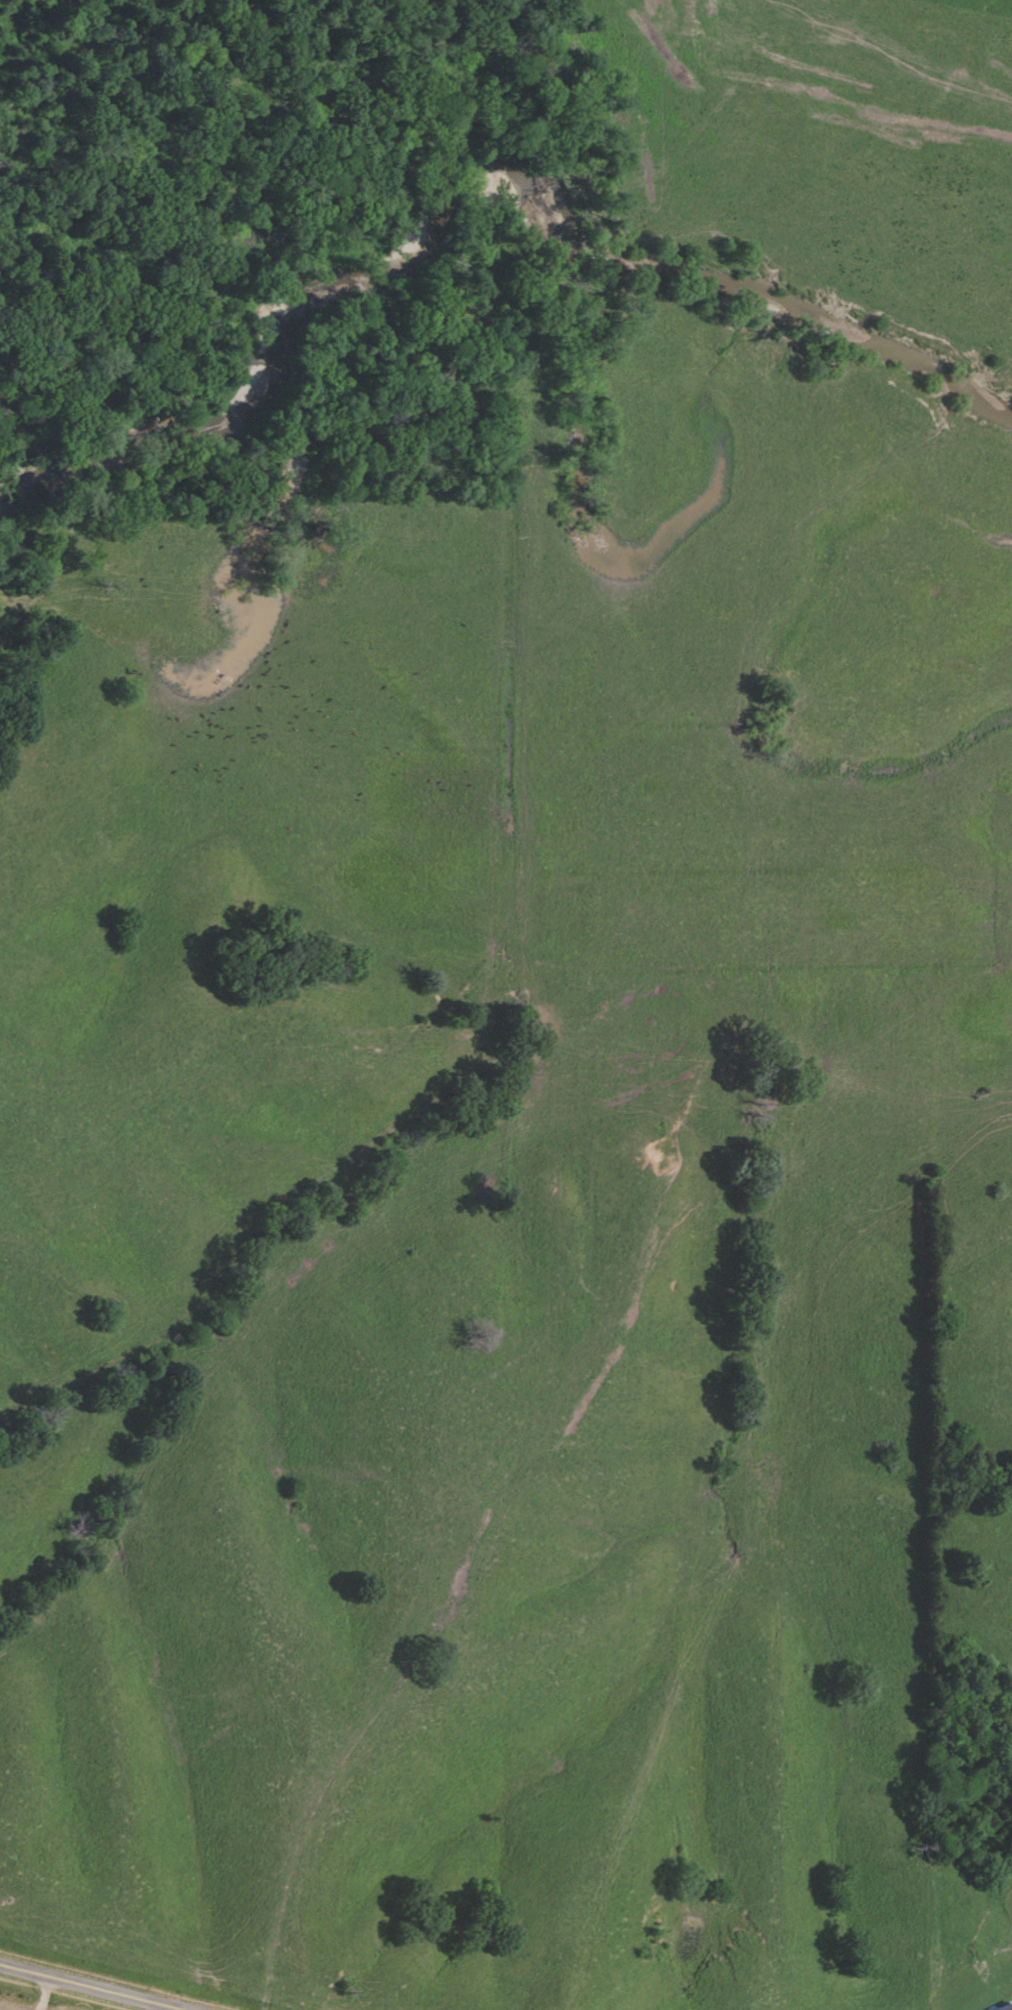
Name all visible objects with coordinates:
road: (87, 1988)

